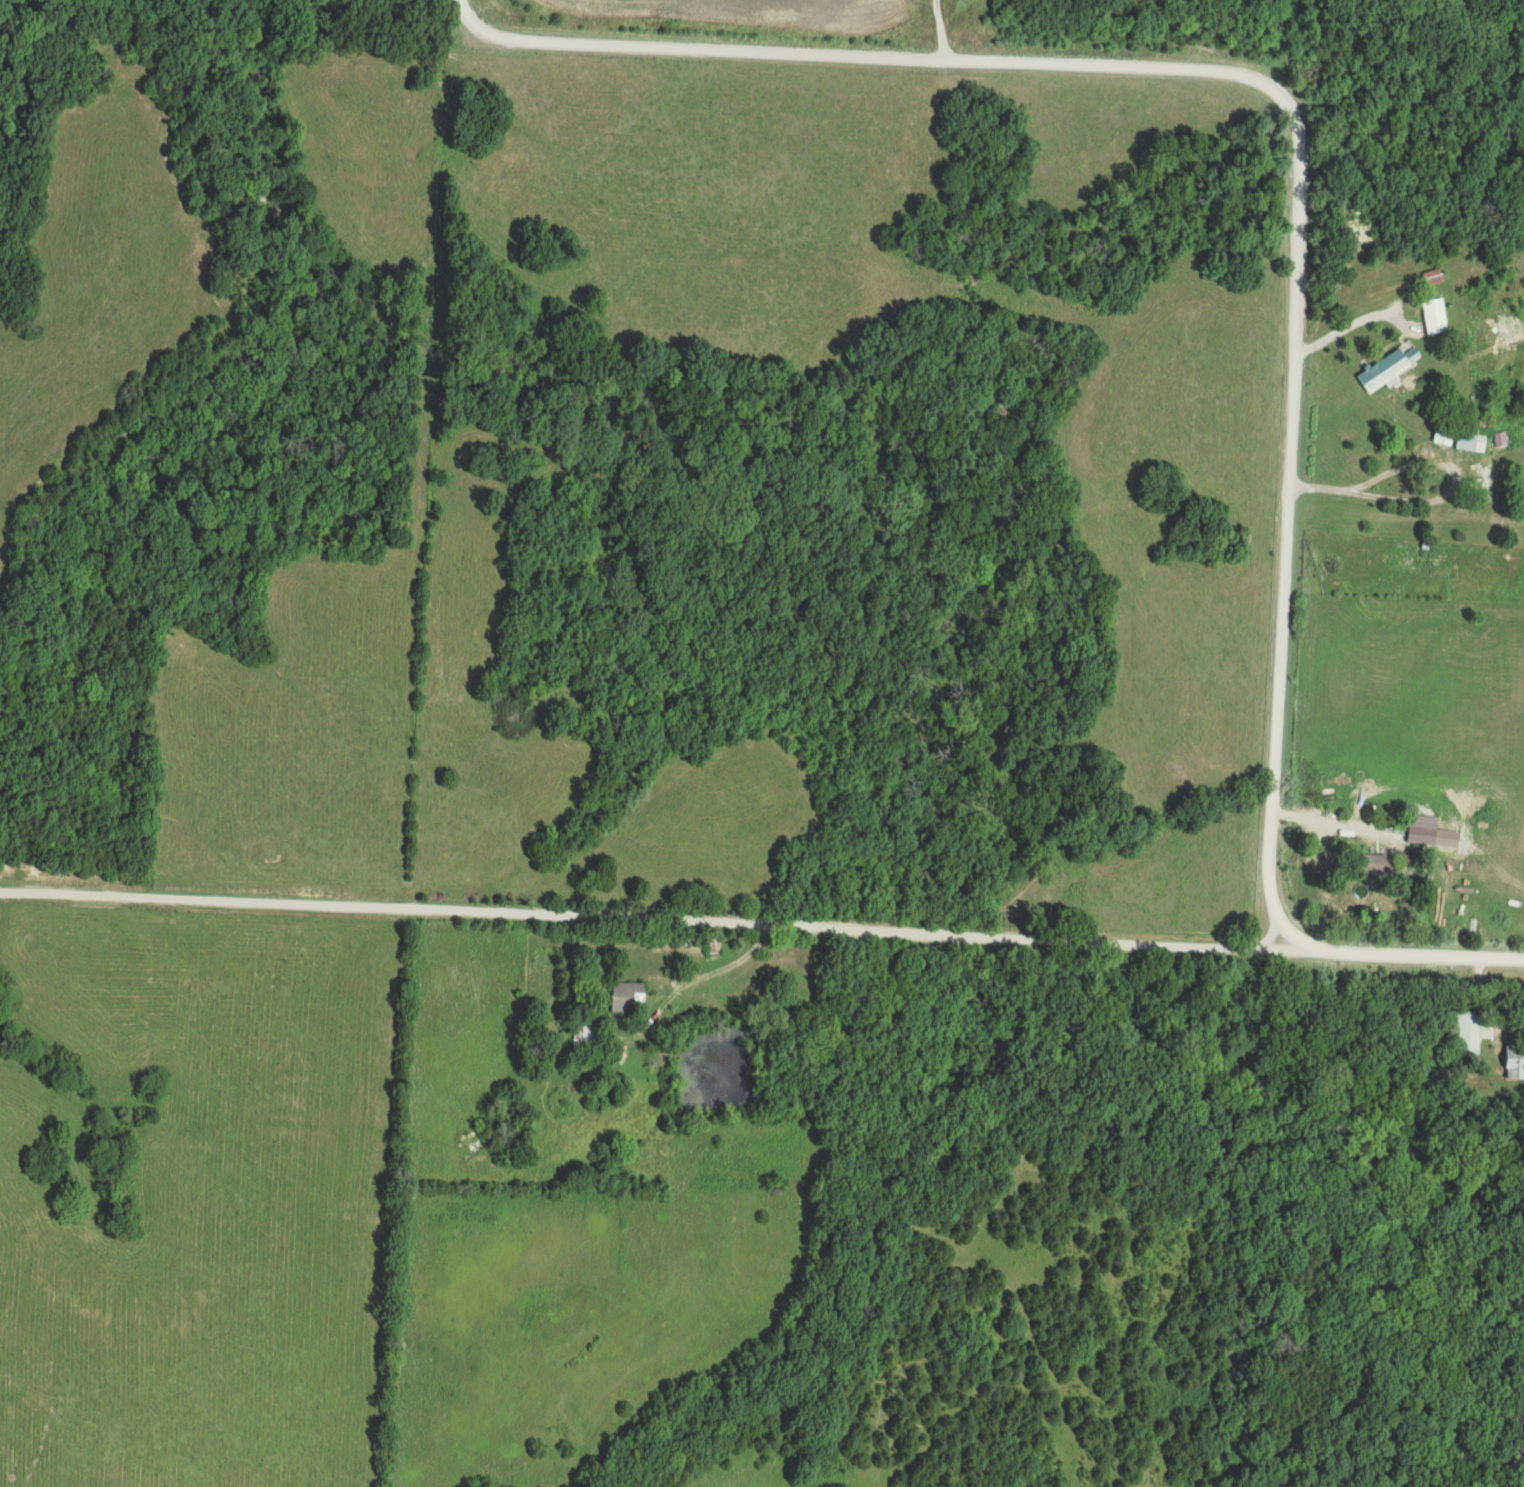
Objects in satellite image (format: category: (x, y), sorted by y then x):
road: (942, 29)
road: (1285, 102)
building: (1434, 278)
building: (1435, 317)
road: (1361, 324)
building: (1389, 368)
building: (1444, 436)
building: (1472, 442)
building: (1491, 482)
road: (1315, 490)
road: (1444, 498)
road: (1336, 825)
road: (762, 920)
road: (719, 967)
building: (627, 997)
building: (1467, 1032)
building: (588, 1041)
building: (1515, 1062)

